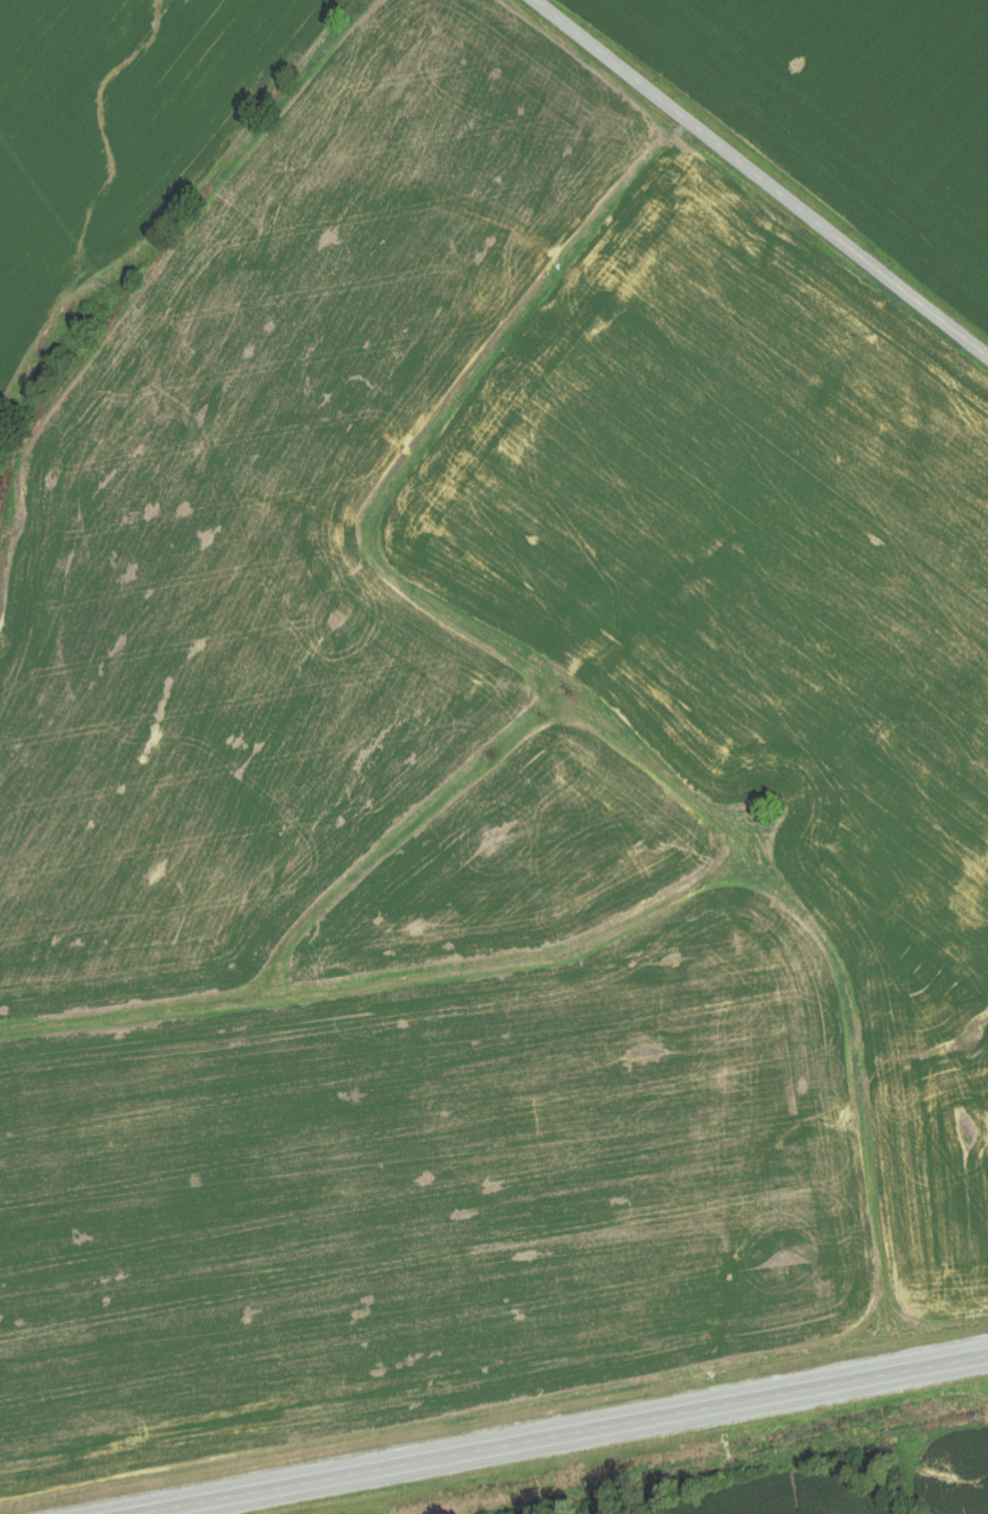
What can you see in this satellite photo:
road: (762, 178)
road: (501, 1424)

